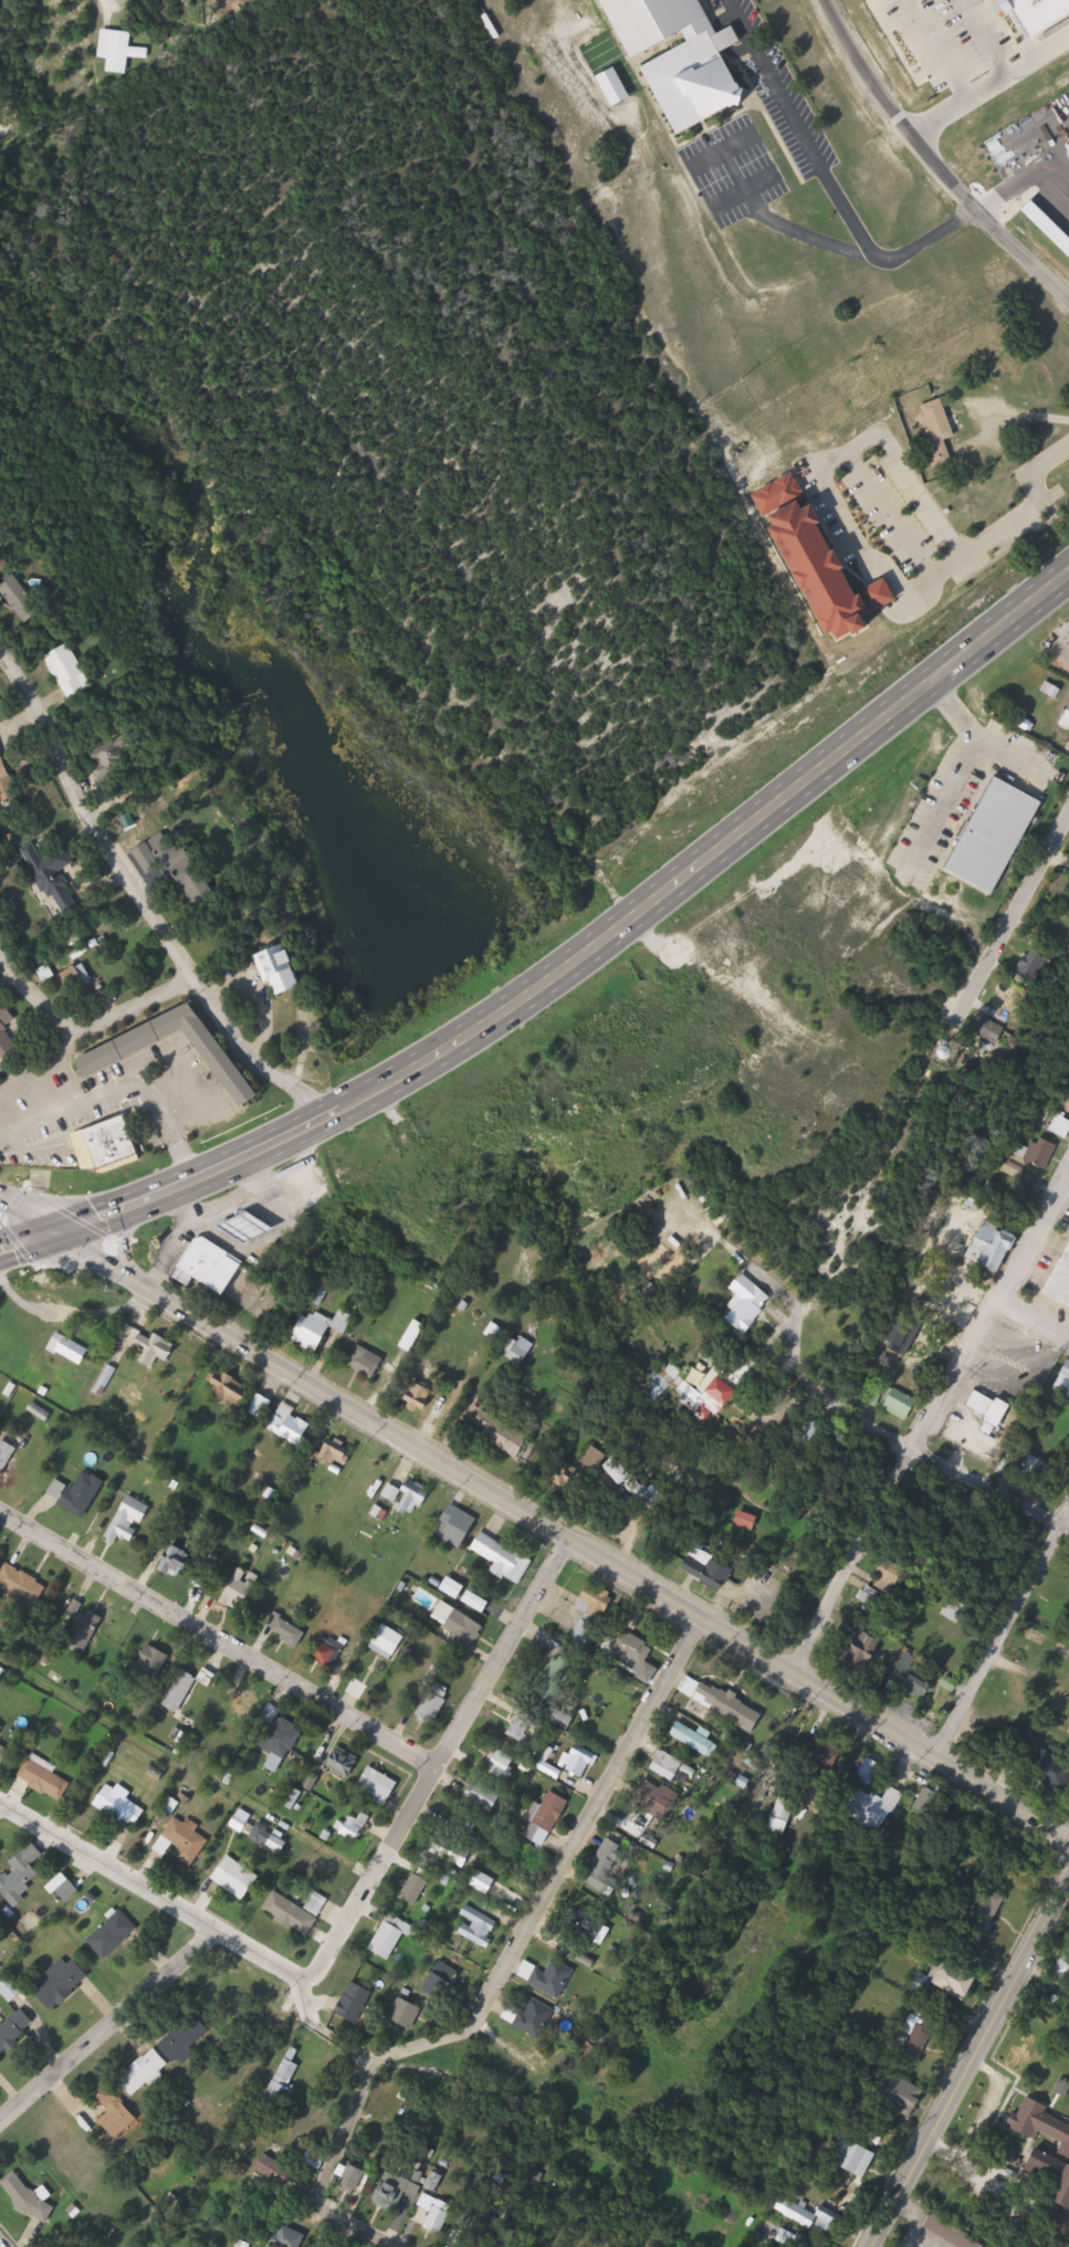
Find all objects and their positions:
road: (98, 6)
building: (1036, 14)
building: (584, 43)
building: (118, 50)
building: (683, 56)
road: (936, 158)
building: (940, 429)
building: (811, 563)
building: (22, 598)
building: (72, 672)
building: (1068, 717)
building: (115, 757)
building: (7, 769)
road: (831, 774)
building: (997, 834)
building: (177, 870)
building: (59, 882)
road: (148, 897)
road: (1019, 913)
building: (1040, 966)
building: (282, 972)
building: (77, 979)
road: (87, 1031)
building: (999, 1031)
building: (8, 1036)
building: (137, 1043)
building: (1062, 1126)
road: (308, 1133)
building: (116, 1146)
building: (1039, 1152)
road: (29, 1216)
building: (242, 1231)
gas station: (242, 1231)
traffic signals: (57, 1233)
road: (125, 1239)
building: (986, 1240)
building: (202, 1268)
building: (1062, 1284)
building: (748, 1304)
road: (1037, 1308)
building: (949, 1310)
road: (992, 1311)
building: (321, 1327)
building: (71, 1350)
building: (520, 1350)
building: (156, 1351)
building: (1035, 1355)
building: (368, 1363)
building: (663, 1383)
building: (1065, 1385)
building: (233, 1392)
building: (711, 1395)
building: (903, 1405)
building: (261, 1406)
road: (461, 1408)
building: (993, 1408)
building: (293, 1425)
building: (500, 1436)
building: (337, 1455)
road: (919, 1455)
building: (7, 1456)
building: (602, 1463)
building: (364, 1470)
building: (1034, 1472)
building: (77, 1494)
building: (647, 1494)
building: (411, 1499)
building: (128, 1521)
building: (750, 1521)
building: (457, 1526)
road: (563, 1533)
building: (504, 1558)
building: (177, 1562)
road: (856, 1563)
building: (710, 1568)
building: (207, 1571)
building: (22, 1587)
building: (238, 1596)
building: (595, 1603)
building: (879, 1604)
building: (87, 1625)
building: (463, 1629)
building: (287, 1630)
road: (219, 1634)
building: (584, 1634)
road: (1006, 1637)
building: (388, 1642)
building: (860, 1644)
building: (632, 1651)
building: (325, 1652)
building: (151, 1666)
building: (559, 1668)
building: (913, 1679)
building: (181, 1691)
building: (432, 1704)
building: (731, 1707)
building: (558, 1715)
building: (1, 1729)
building: (521, 1730)
building: (276, 1734)
building: (699, 1739)
building: (824, 1750)
building: (4, 1754)
road: (438, 1758)
building: (343, 1763)
building: (580, 1763)
building: (500, 1767)
building: (674, 1768)
building: (871, 1772)
building: (1067, 1773)
building: (45, 1781)
building: (379, 1784)
building: (483, 1797)
building: (658, 1798)
building: (873, 1804)
building: (122, 1806)
road: (2, 1808)
building: (551, 1812)
building: (469, 1820)
building: (355, 1825)
building: (185, 1841)
building: (611, 1856)
road: (563, 1870)
building: (22, 1875)
building: (238, 1879)
building: (66, 1888)
building: (416, 1888)
road: (153, 1890)
building: (296, 1912)
building: (984, 1918)
building: (480, 1919)
building: (591, 1926)
building: (113, 1934)
building: (391, 1936)
building: (1065, 1970)
building: (551, 1977)
building: (961, 1981)
building: (63, 1982)
building: (442, 1983)
building: (356, 2003)
building: (410, 2016)
building: (532, 2017)
road: (111, 2027)
road: (323, 2029)
building: (14, 2030)
building: (187, 2037)
building: (590, 2048)
road: (975, 2066)
building: (145, 2071)
building: (289, 2072)
building: (899, 2092)
building: (116, 2113)
building: (1041, 2123)
building: (856, 2156)
building: (1052, 2164)
building: (166, 2165)
building: (276, 2170)
building: (354, 2176)
road: (332, 2177)
building: (391, 2192)
building: (28, 2197)
building: (440, 2214)
building: (831, 2220)
building: (953, 2232)
building: (290, 2237)
building: (509, 2239)
road: (3, 2243)

